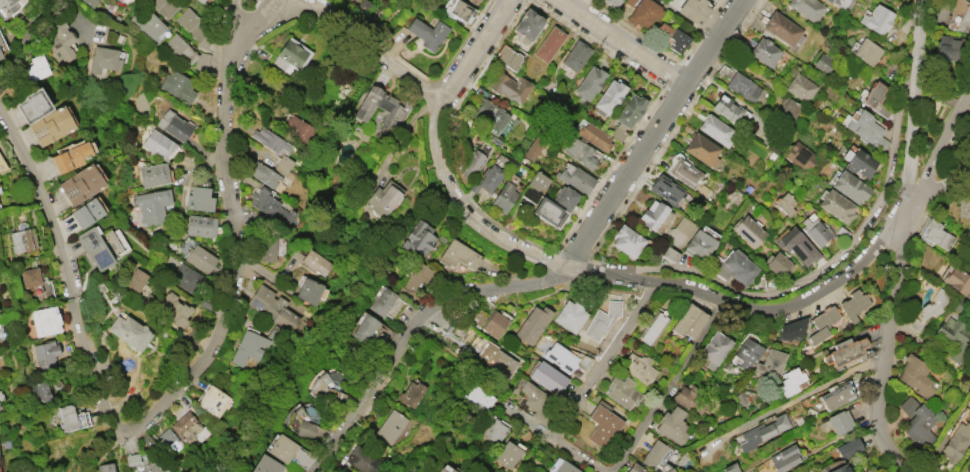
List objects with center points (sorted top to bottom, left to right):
building: (124, 1)
building: (201, 1)
building: (477, 1)
building: (90, 2)
building: (617, 2)
building: (632, 2)
building: (844, 3)
building: (165, 6)
building: (8, 7)
building: (810, 8)
building: (457, 10)
building: (692, 10)
building: (644, 13)
building: (960, 16)
building: (876, 18)
building: (147, 22)
building: (191, 24)
road: (33, 25)
building: (527, 25)
road: (229, 28)
road: (253, 28)
building: (782, 29)
building: (427, 32)
building: (670, 36)
building: (60, 40)
building: (0, 42)
road: (623, 42)
building: (548, 44)
building: (948, 47)
road: (470, 49)
building: (179, 50)
building: (764, 51)
building: (867, 51)
building: (290, 55)
building: (0, 56)
building: (507, 56)
building: (575, 56)
building: (103, 59)
building: (822, 62)
building: (36, 68)
building: (589, 83)
building: (177, 86)
building: (508, 86)
building: (742, 86)
building: (801, 87)
park: (253, 95)
building: (608, 97)
building: (875, 99)
building: (33, 105)
building: (378, 106)
building: (729, 110)
building: (789, 110)
building: (627, 114)
building: (490, 115)
building: (51, 125)
building: (177, 127)
building: (298, 129)
building: (715, 129)
building: (866, 129)
road: (432, 130)
building: (594, 136)
building: (269, 140)
road: (647, 141)
building: (157, 144)
building: (532, 149)
building: (701, 149)
building: (579, 151)
building: (800, 155)
road: (937, 155)
building: (70, 156)
building: (858, 162)
building: (471, 163)
building: (282, 164)
building: (684, 173)
building: (153, 174)
building: (263, 174)
building: (575, 178)
building: (487, 179)
building: (537, 181)
building: (81, 184)
building: (850, 186)
road: (937, 186)
building: (665, 189)
building: (384, 197)
building: (503, 197)
building: (564, 197)
building: (199, 198)
building: (784, 203)
building: (153, 205)
building: (269, 205)
building: (542, 206)
building: (837, 206)
building: (963, 208)
building: (86, 212)
building: (652, 215)
building: (200, 225)
building: (684, 226)
building: (747, 230)
building: (815, 231)
building: (936, 233)
building: (418, 238)
building: (22, 239)
building: (627, 241)
building: (698, 245)
building: (798, 245)
road: (900, 246)
building: (94, 247)
building: (265, 249)
building: (669, 253)
building: (458, 254)
building: (199, 258)
building: (315, 262)
building: (777, 264)
building: (736, 267)
building: (30, 277)
building: (186, 277)
building: (136, 279)
road: (585, 279)
building: (414, 280)
building: (957, 280)
building: (308, 290)
building: (382, 301)
building: (853, 305)
building: (932, 305)
building: (271, 307)
building: (173, 308)
building: (570, 315)
building: (601, 320)
building: (45, 321)
building: (690, 321)
building: (495, 323)
building: (532, 324)
building: (822, 324)
building: (364, 327)
building: (652, 327)
building: (792, 329)
building: (129, 331)
building: (954, 336)
building: (248, 347)
building: (714, 349)
building: (45, 352)
building: (844, 352)
building: (747, 353)
building: (559, 357)
building: (501, 362)
road: (605, 364)
building: (770, 364)
building: (638, 367)
building: (916, 375)
building: (546, 376)
building: (790, 381)
building: (326, 383)
building: (39, 390)
road: (667, 390)
building: (622, 391)
building: (410, 393)
building: (836, 396)
building: (477, 398)
building: (741, 398)
building: (692, 399)
building: (213, 401)
building: (538, 402)
road: (160, 416)
building: (69, 418)
building: (838, 421)
building: (917, 422)
building: (672, 424)
building: (390, 426)
building: (603, 426)
building: (185, 427)
building: (305, 429)
building: (493, 430)
building: (761, 432)
building: (167, 439)
building: (956, 442)
road: (556, 446)
building: (848, 447)
building: (282, 448)
road: (105, 449)
building: (507, 454)
building: (655, 454)
building: (783, 457)
building: (361, 459)
building: (266, 464)
building: (154, 466)
building: (106, 467)
building: (565, 467)
building: (635, 467)
building: (730, 467)
building: (840, 468)
building: (441, 470)
building: (451, 470)

